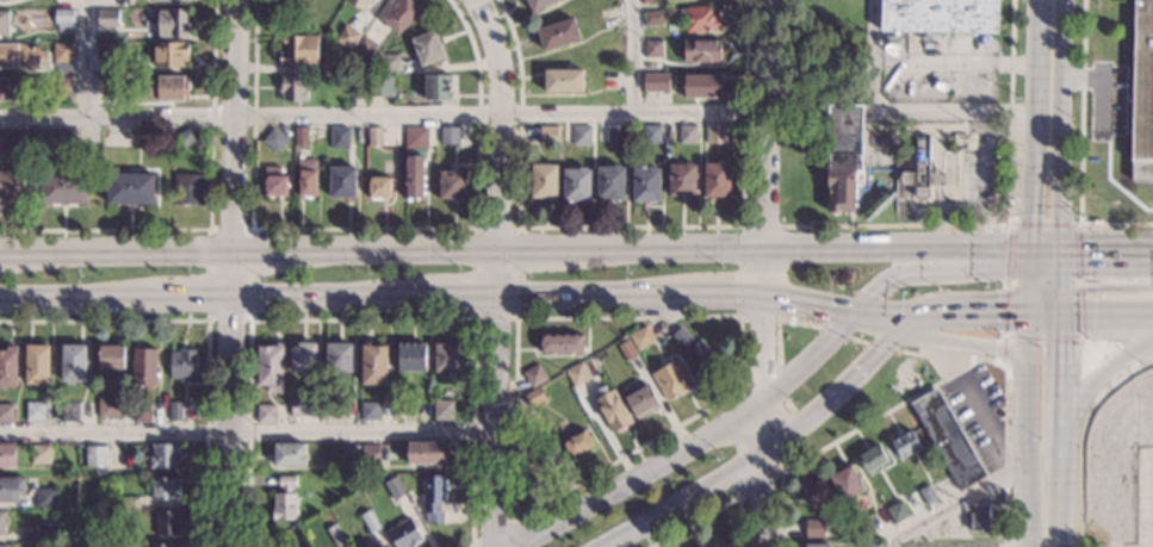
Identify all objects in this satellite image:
building: (4, 0)
building: (171, 0)
building: (641, 0)
building: (359, 2)
building: (537, 4)
building: (287, 5)
building: (401, 14)
building: (940, 15)
building: (107, 17)
building: (652, 17)
building: (699, 18)
building: (63, 19)
building: (4, 21)
building: (169, 24)
building: (557, 33)
building: (347, 36)
building: (364, 46)
building: (427, 46)
building: (652, 48)
building: (299, 49)
building: (107, 50)
building: (700, 50)
building: (62, 51)
building: (169, 54)
road: (1052, 54)
building: (20, 56)
road: (87, 58)
road: (633, 58)
building: (389, 61)
building: (341, 62)
building: (563, 79)
building: (655, 81)
building: (105, 83)
building: (61, 85)
building: (355, 85)
building: (698, 85)
building: (379, 86)
building: (438, 86)
building: (11, 88)
building: (168, 88)
building: (292, 88)
building: (1141, 93)
park: (808, 105)
road: (911, 107)
road: (383, 118)
road: (496, 120)
road: (233, 124)
building: (714, 132)
building: (451, 133)
building: (547, 133)
building: (582, 133)
building: (615, 133)
building: (650, 133)
building: (686, 133)
building: (302, 135)
building: (374, 136)
building: (118, 137)
building: (186, 137)
building: (339, 137)
building: (415, 137)
building: (55, 138)
building: (274, 138)
building: (13, 141)
road: (765, 147)
road: (1080, 148)
building: (842, 155)
building: (919, 172)
building: (414, 175)
road: (1034, 176)
road: (1059, 176)
building: (306, 178)
building: (715, 179)
building: (682, 180)
building: (273, 181)
building: (342, 181)
building: (544, 181)
building: (609, 182)
building: (451, 184)
building: (645, 184)
building: (576, 185)
building: (10, 186)
building: (62, 187)
building: (130, 187)
building: (378, 187)
building: (187, 188)
road: (210, 219)
road: (1074, 223)
road: (1008, 224)
road: (627, 226)
road: (517, 228)
road: (364, 229)
road: (799, 247)
road: (532, 248)
traffic signals: (1029, 248)
road: (1044, 248)
road: (262, 249)
road: (393, 249)
traffic signals: (1060, 249)
road: (1106, 249)
road: (116, 250)
road: (922, 263)
road: (739, 269)
road: (1060, 271)
road: (494, 272)
road: (1028, 281)
road: (1106, 287)
road: (709, 294)
road: (576, 296)
road: (173, 297)
road: (306, 297)
road: (439, 297)
road: (58, 298)
road: (805, 304)
road: (1043, 304)
road: (1061, 304)
traffic signals: (850, 313)
traffic signals: (1027, 316)
road: (1043, 316)
traffic signals: (1061, 316)
road: (1106, 316)
road: (965, 317)
road: (776, 318)
road: (876, 318)
road: (364, 319)
road: (248, 321)
traffic signals: (905, 323)
road: (206, 330)
road: (942, 330)
road: (923, 331)
building: (640, 337)
road: (856, 340)
road: (1027, 340)
building: (559, 344)
road: (985, 348)
building: (627, 350)
road: (760, 350)
building: (696, 354)
building: (111, 356)
building: (411, 356)
road: (937, 356)
road: (1103, 356)
building: (302, 358)
building: (339, 358)
building: (447, 358)
road: (805, 360)
building: (73, 362)
building: (372, 362)
road: (972, 362)
road: (1099, 362)
building: (37, 365)
building: (181, 365)
building: (8, 366)
building: (269, 366)
building: (143, 367)
road: (1060, 369)
building: (576, 374)
road: (1099, 374)
building: (534, 375)
building: (670, 379)
road: (836, 392)
road: (230, 397)
building: (533, 397)
building: (641, 399)
building: (303, 406)
road: (979, 406)
building: (106, 408)
building: (334, 408)
building: (442, 409)
building: (612, 409)
building: (368, 410)
building: (405, 410)
building: (35, 411)
building: (141, 411)
building: (175, 411)
building: (69, 412)
building: (6, 414)
building: (266, 414)
parking lot: (977, 414)
road: (1025, 421)
road: (494, 422)
road: (760, 429)
road: (246, 430)
road: (845, 431)
road: (1059, 433)
road: (1081, 436)
building: (947, 440)
building: (574, 442)
building: (905, 443)
road: (1004, 443)
building: (426, 452)
building: (289, 453)
building: (349, 453)
building: (370, 453)
building: (39, 454)
building: (6, 455)
building: (93, 455)
building: (163, 456)
building: (551, 458)
road: (1050, 458)
building: (870, 460)
building: (72, 470)
road: (516, 473)
road: (636, 477)
building: (844, 481)
building: (10, 489)
building: (165, 489)
building: (395, 490)
building: (432, 493)
building: (814, 493)
building: (926, 495)
road: (738, 496)
building: (44, 498)
road: (677, 498)
building: (284, 499)
road: (758, 499)
road: (960, 501)
building: (129, 502)
road: (715, 509)
road: (1042, 510)
building: (897, 512)
building: (979, 516)
building: (368, 521)
building: (2, 522)
building: (166, 522)
road: (504, 524)
building: (813, 528)
building: (45, 533)
building: (403, 534)
building: (336, 535)
building: (159, 545)
building: (361, 545)
building: (2, 546)
building: (379, 546)
building: (383, 546)
building: (705, 546)
building: (709, 546)
building: (816, 546)
building: (870, 546)

